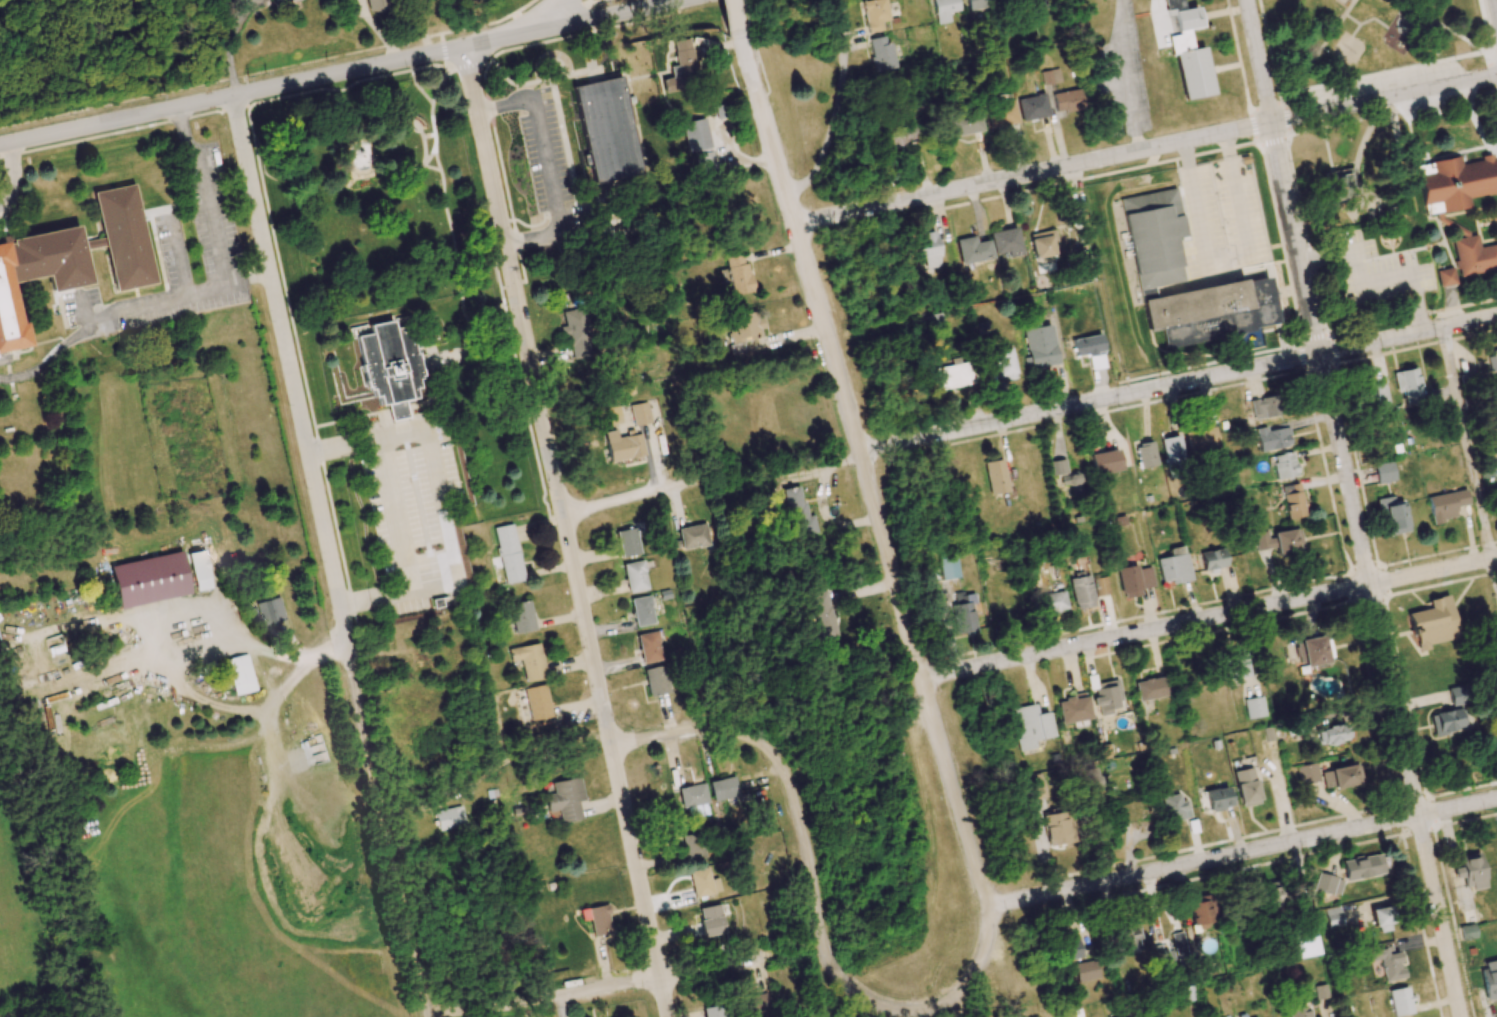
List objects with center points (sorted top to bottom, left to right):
building: (277, 0)
building: (979, 4)
building: (379, 5)
building: (1039, 7)
building: (945, 9)
road: (551, 14)
building: (873, 14)
road: (747, 17)
road: (736, 19)
road: (1442, 25)
road: (1483, 25)
street lamp: (486, 27)
road: (441, 37)
park: (1365, 37)
road: (538, 43)
road: (228, 46)
street lamp: (401, 46)
road: (1270, 47)
road: (443, 50)
road: (1487, 50)
building: (1189, 51)
building: (880, 54)
road: (1486, 57)
road: (1313, 59)
street lamp: (329, 61)
road: (1259, 61)
road: (485, 63)
road: (446, 64)
road: (469, 65)
building: (677, 66)
road: (451, 68)
road: (761, 69)
road: (1383, 72)
road: (337, 73)
street lamp: (243, 74)
road: (1492, 75)
street lamp: (737, 90)
road: (1384, 98)
building: (1067, 100)
road: (489, 107)
building: (1033, 107)
building: (1001, 113)
road: (836, 114)
street lamp: (465, 116)
building: (965, 124)
building: (607, 130)
building: (903, 137)
building: (698, 142)
street lamp: (229, 146)
street lamp: (221, 160)
road: (548, 167)
road: (10, 172)
road: (1033, 173)
road: (502, 174)
building: (1455, 183)
building: (1337, 188)
road: (206, 191)
park: (379, 197)
street lamp: (484, 207)
road: (509, 220)
street lamp: (777, 220)
road: (499, 222)
road: (490, 224)
street lamp: (249, 234)
building: (123, 237)
building: (1155, 238)
road: (1294, 238)
road: (517, 241)
building: (1006, 242)
street lamp: (243, 244)
building: (1042, 244)
building: (928, 248)
building: (973, 250)
building: (1474, 256)
road: (522, 267)
building: (39, 272)
road: (281, 274)
building: (738, 275)
building: (1446, 276)
road: (247, 277)
road: (1374, 280)
road: (512, 283)
road: (503, 287)
street lamp: (249, 303)
street lamp: (507, 305)
building: (1212, 311)
road: (104, 316)
street lamp: (269, 323)
building: (743, 327)
building: (578, 334)
road: (1408, 335)
building: (1038, 344)
building: (1086, 345)
street lamp: (812, 347)
building: (1492, 360)
building: (1003, 362)
building: (389, 365)
road: (288, 367)
road: (518, 371)
building: (954, 375)
building: (1407, 385)
building: (1374, 397)
road: (1090, 402)
street lamp: (288, 406)
building: (1266, 409)
building: (641, 413)
building: (1273, 437)
building: (1201, 439)
road: (1466, 443)
building: (623, 446)
building: (1172, 449)
building: (1145, 455)
building: (1106, 462)
road: (431, 465)
building: (1284, 465)
street lamp: (847, 467)
building: (1384, 472)
building: (996, 476)
street lamp: (304, 488)
road: (628, 495)
building: (1294, 501)
street lamp: (551, 503)
street lamp: (664, 504)
building: (1446, 505)
road: (876, 511)
building: (798, 512)
road: (395, 513)
building: (1393, 515)
road: (565, 531)
building: (694, 536)
building: (1264, 540)
building: (1287, 541)
building: (627, 542)
building: (507, 557)
building: (1213, 559)
street lamp: (318, 563)
street lamp: (874, 564)
building: (947, 567)
building: (1173, 569)
building: (200, 570)
road: (1494, 573)
building: (635, 576)
building: (150, 579)
building: (1134, 580)
building: (1100, 586)
building: (1082, 590)
road: (374, 598)
building: (1054, 601)
building: (1005, 606)
building: (270, 611)
building: (642, 611)
building: (822, 612)
building: (963, 614)
building: (522, 617)
road: (1209, 618)
building: (1432, 623)
street lamp: (577, 633)
building: (650, 647)
building: (1315, 651)
building: (1271, 659)
building: (529, 661)
street lamp: (333, 665)
building: (1235, 666)
building: (240, 674)
building: (658, 680)
road: (1390, 685)
building: (1495, 685)
building: (1152, 688)
street lamp: (939, 694)
building: (1455, 696)
building: (1107, 697)
building: (537, 702)
building: (1254, 707)
building: (1074, 709)
building: (1449, 721)
street lamp: (598, 724)
building: (1031, 726)
building: (1332, 733)
street lamp: (745, 740)
building: (1493, 745)
street lamp: (661, 749)
street lamp: (355, 764)
building: (1308, 773)
building: (1342, 776)
building: (1090, 779)
building: (1246, 787)
building: (724, 788)
street lamp: (961, 793)
building: (693, 795)
building: (1218, 798)
building: (566, 799)
building: (1174, 808)
building: (449, 817)
road: (386, 828)
building: (1056, 829)
building: (695, 846)
road: (808, 848)
road: (1240, 852)
street lamp: (797, 864)
building: (1365, 866)
building: (1470, 870)
street lamp: (648, 873)
building: (705, 881)
building: (1327, 884)
building: (1270, 896)
building: (1202, 913)
street lamp: (1002, 916)
building: (1334, 916)
building: (597, 919)
building: (1382, 919)
building: (711, 920)
building: (1467, 932)
building: (1127, 934)
building: (1307, 943)
building: (1179, 945)
building: (1388, 963)
building: (1085, 971)
building: (1489, 978)
street lamp: (815, 986)
road: (606, 987)
street lamp: (639, 991)
building: (1321, 992)
street lamp: (912, 999)
road: (967, 1000)
building: (1400, 1001)
building: (758, 1005)
building: (717, 1011)
building: (1298, 1012)

